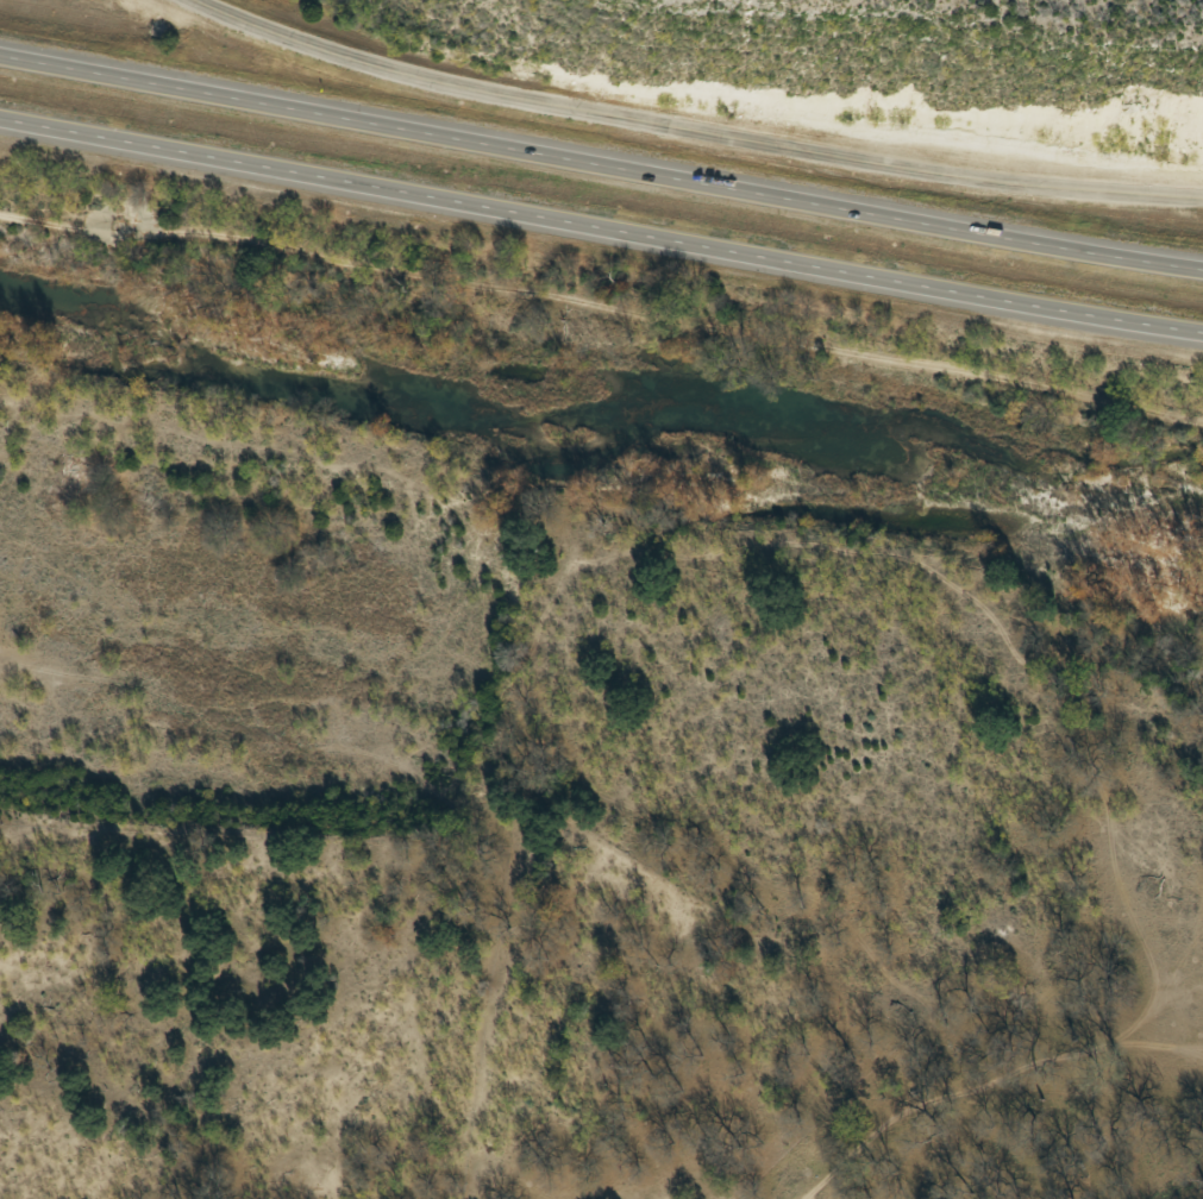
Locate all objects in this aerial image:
road: (696, 126)
road: (599, 168)
road: (601, 232)
river: (596, 410)

